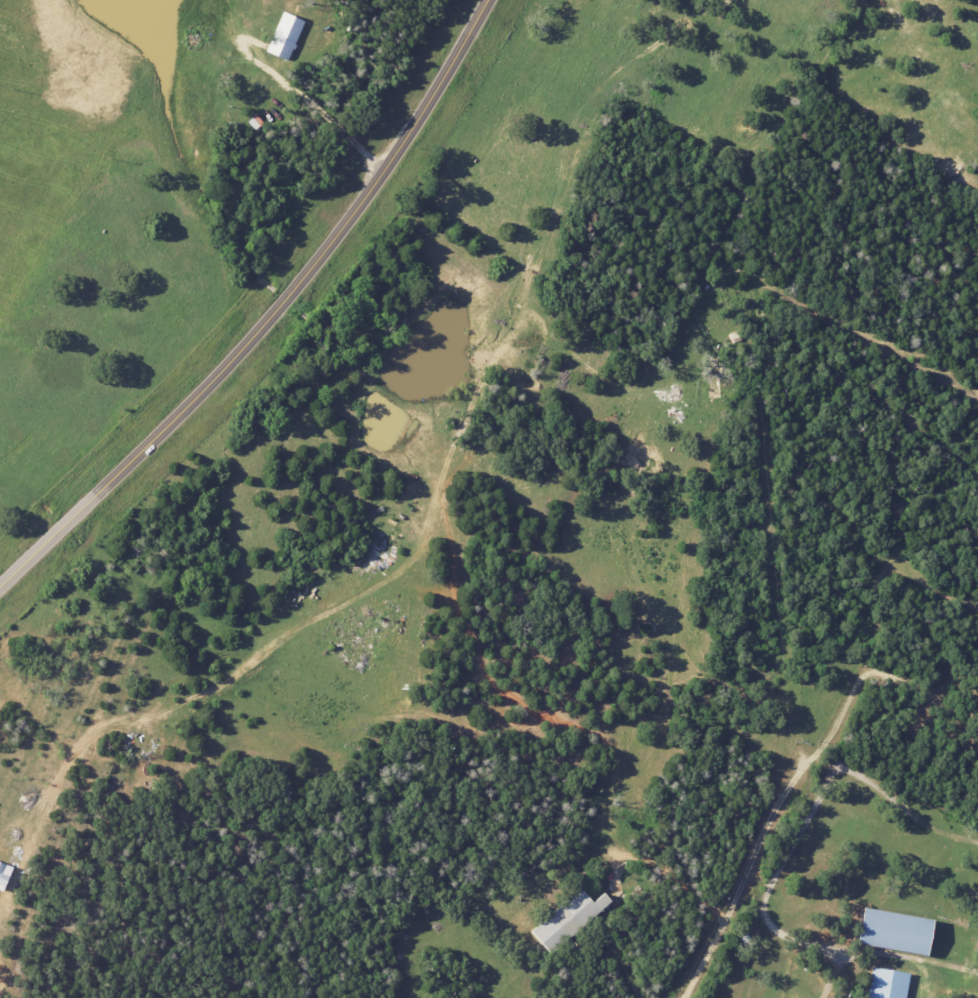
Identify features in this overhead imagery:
building: (283, 36)
road: (270, 315)
road: (794, 778)
building: (3, 874)
road: (671, 877)
building: (565, 919)
building: (890, 932)
building: (884, 984)

